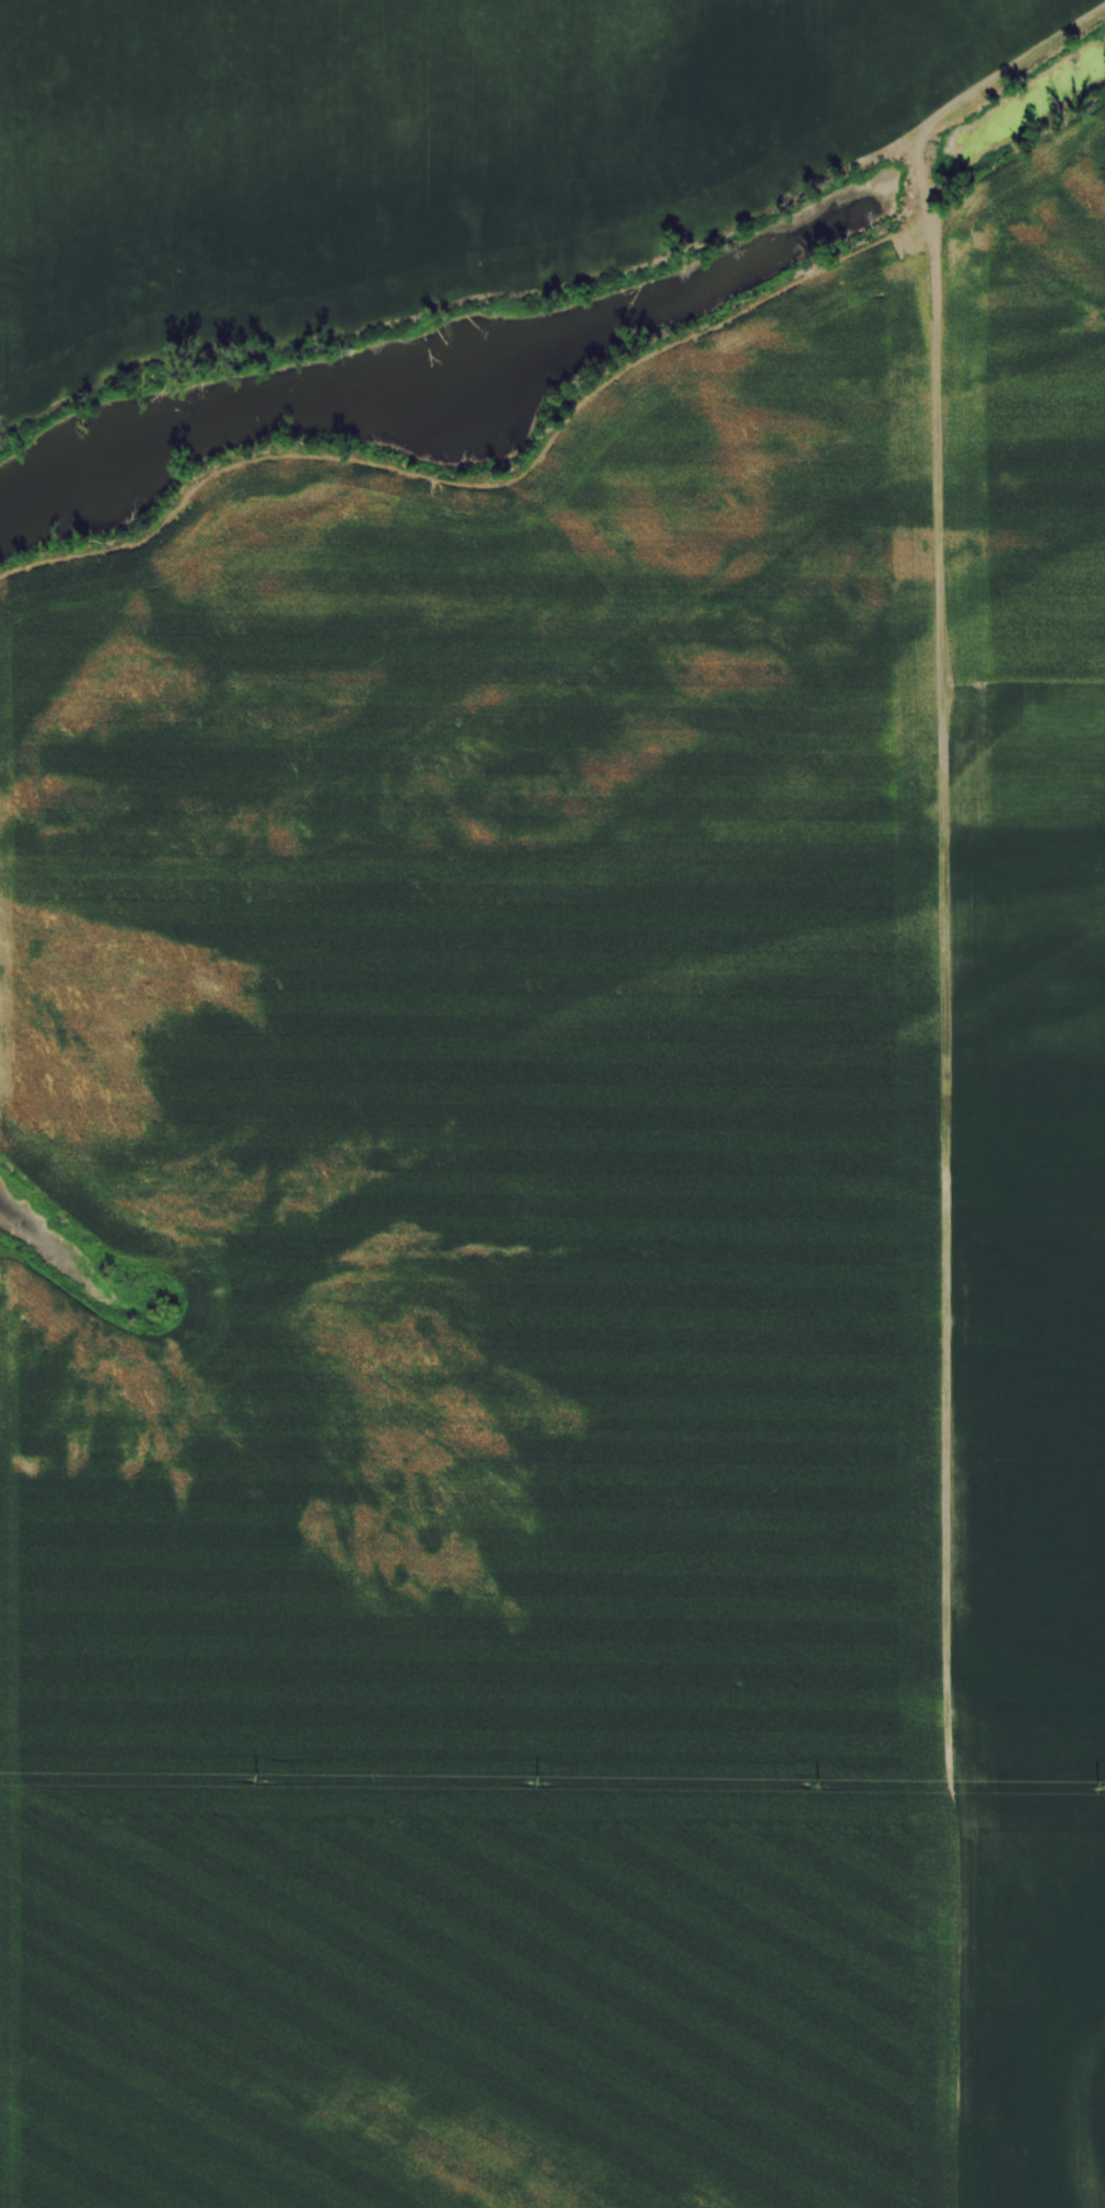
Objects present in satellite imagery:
power tower: (259, 1779)
power tower: (539, 1783)
power tower: (819, 1783)
power tower: (1101, 1787)

